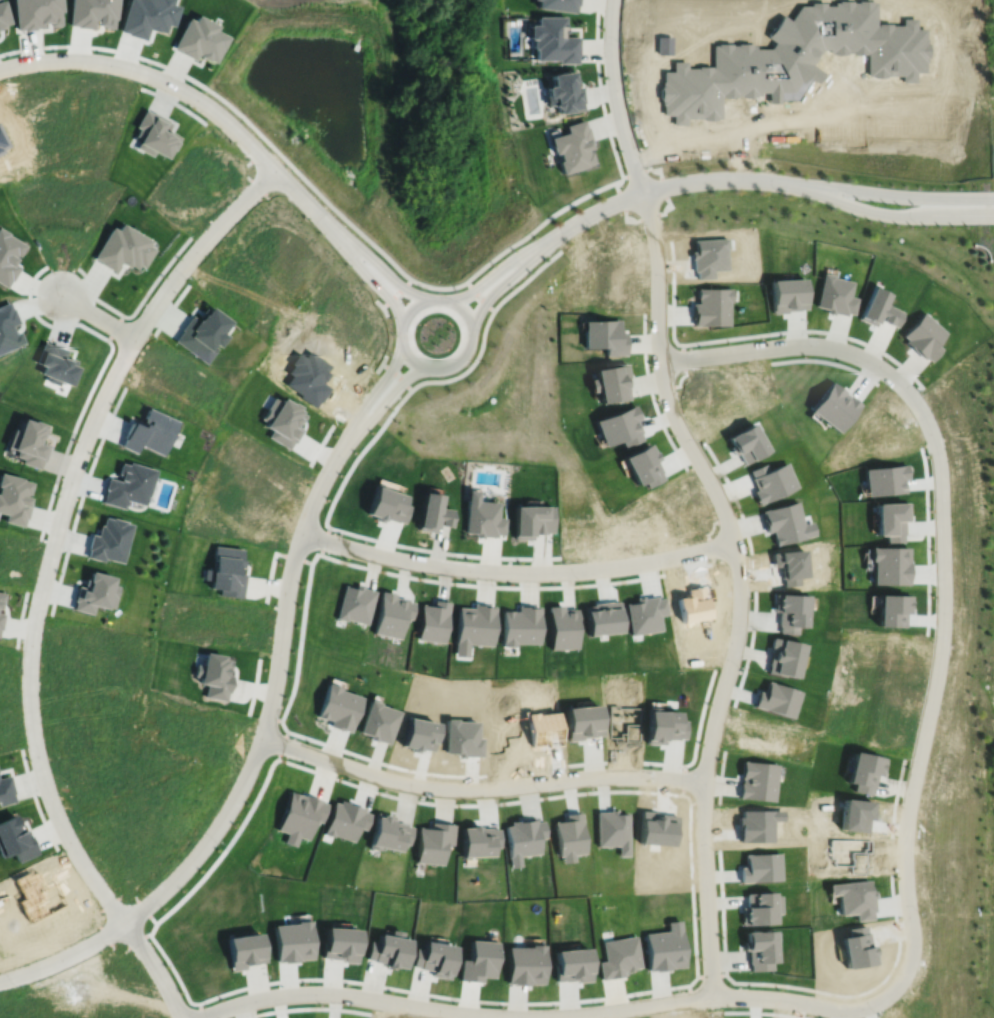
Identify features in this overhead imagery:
building: (557, 4)
building: (92, 12)
building: (35, 13)
building: (2, 15)
building: (146, 16)
building: (199, 40)
building: (552, 40)
building: (794, 57)
building: (563, 92)
road: (188, 94)
road: (741, 123)
building: (153, 136)
building: (2, 142)
building: (572, 146)
street lamp: (669, 175)
road: (667, 186)
street lamp: (983, 189)
street lamp: (778, 193)
road: (898, 194)
road: (860, 209)
road: (957, 217)
street lamp: (917, 225)
street lamp: (590, 226)
building: (122, 251)
building: (8, 256)
building: (710, 259)
road: (381, 267)
road: (495, 270)
road: (366, 275)
road: (504, 282)
road: (432, 286)
road: (396, 292)
building: (784, 293)
road: (479, 294)
building: (834, 295)
building: (711, 306)
building: (878, 308)
road: (465, 315)
road: (97, 317)
building: (8, 328)
building: (202, 333)
road: (390, 334)
building: (923, 335)
road: (482, 336)
building: (604, 336)
road: (786, 345)
building: (56, 365)
road: (396, 375)
building: (309, 379)
building: (610, 382)
road: (373, 391)
road: (383, 401)
building: (835, 405)
building: (283, 422)
building: (616, 426)
building: (150, 434)
building: (30, 441)
building: (744, 442)
building: (639, 464)
building: (882, 479)
building: (769, 481)
building: (129, 486)
road: (716, 493)
building: (15, 497)
building: (387, 505)
building: (434, 512)
building: (481, 516)
building: (531, 520)
building: (888, 520)
building: (784, 523)
building: (109, 540)
building: (887, 565)
building: (226, 571)
road: (516, 572)
road: (43, 579)
building: (96, 592)
building: (1, 598)
building: (356, 602)
building: (696, 606)
building: (889, 610)
building: (789, 612)
building: (393, 613)
building: (642, 614)
building: (602, 617)
building: (1, 619)
building: (433, 621)
building: (520, 625)
building: (473, 626)
building: (561, 627)
building: (784, 657)
building: (213, 675)
building: (881, 686)
road: (933, 690)
building: (775, 700)
building: (339, 706)
building: (377, 721)
building: (864, 724)
building: (588, 726)
building: (628, 726)
building: (666, 730)
building: (549, 736)
building: (764, 736)
building: (421, 737)
building: (508, 738)
building: (468, 745)
road: (250, 765)
building: (865, 772)
building: (758, 781)
building: (5, 790)
road: (479, 790)
building: (301, 815)
building: (857, 816)
building: (346, 819)
building: (758, 828)
building: (614, 829)
building: (661, 831)
building: (388, 834)
building: (571, 836)
building: (525, 838)
building: (15, 839)
building: (481, 840)
building: (434, 843)
building: (851, 856)
building: (760, 870)
building: (35, 891)
building: (853, 898)
building: (761, 912)
building: (294, 941)
building: (342, 944)
building: (856, 947)
building: (665, 948)
building: (390, 949)
building: (246, 950)
building: (762, 950)
building: (621, 957)
building: (436, 958)
building: (480, 961)
building: (527, 965)
building: (575, 965)
road: (544, 1016)

